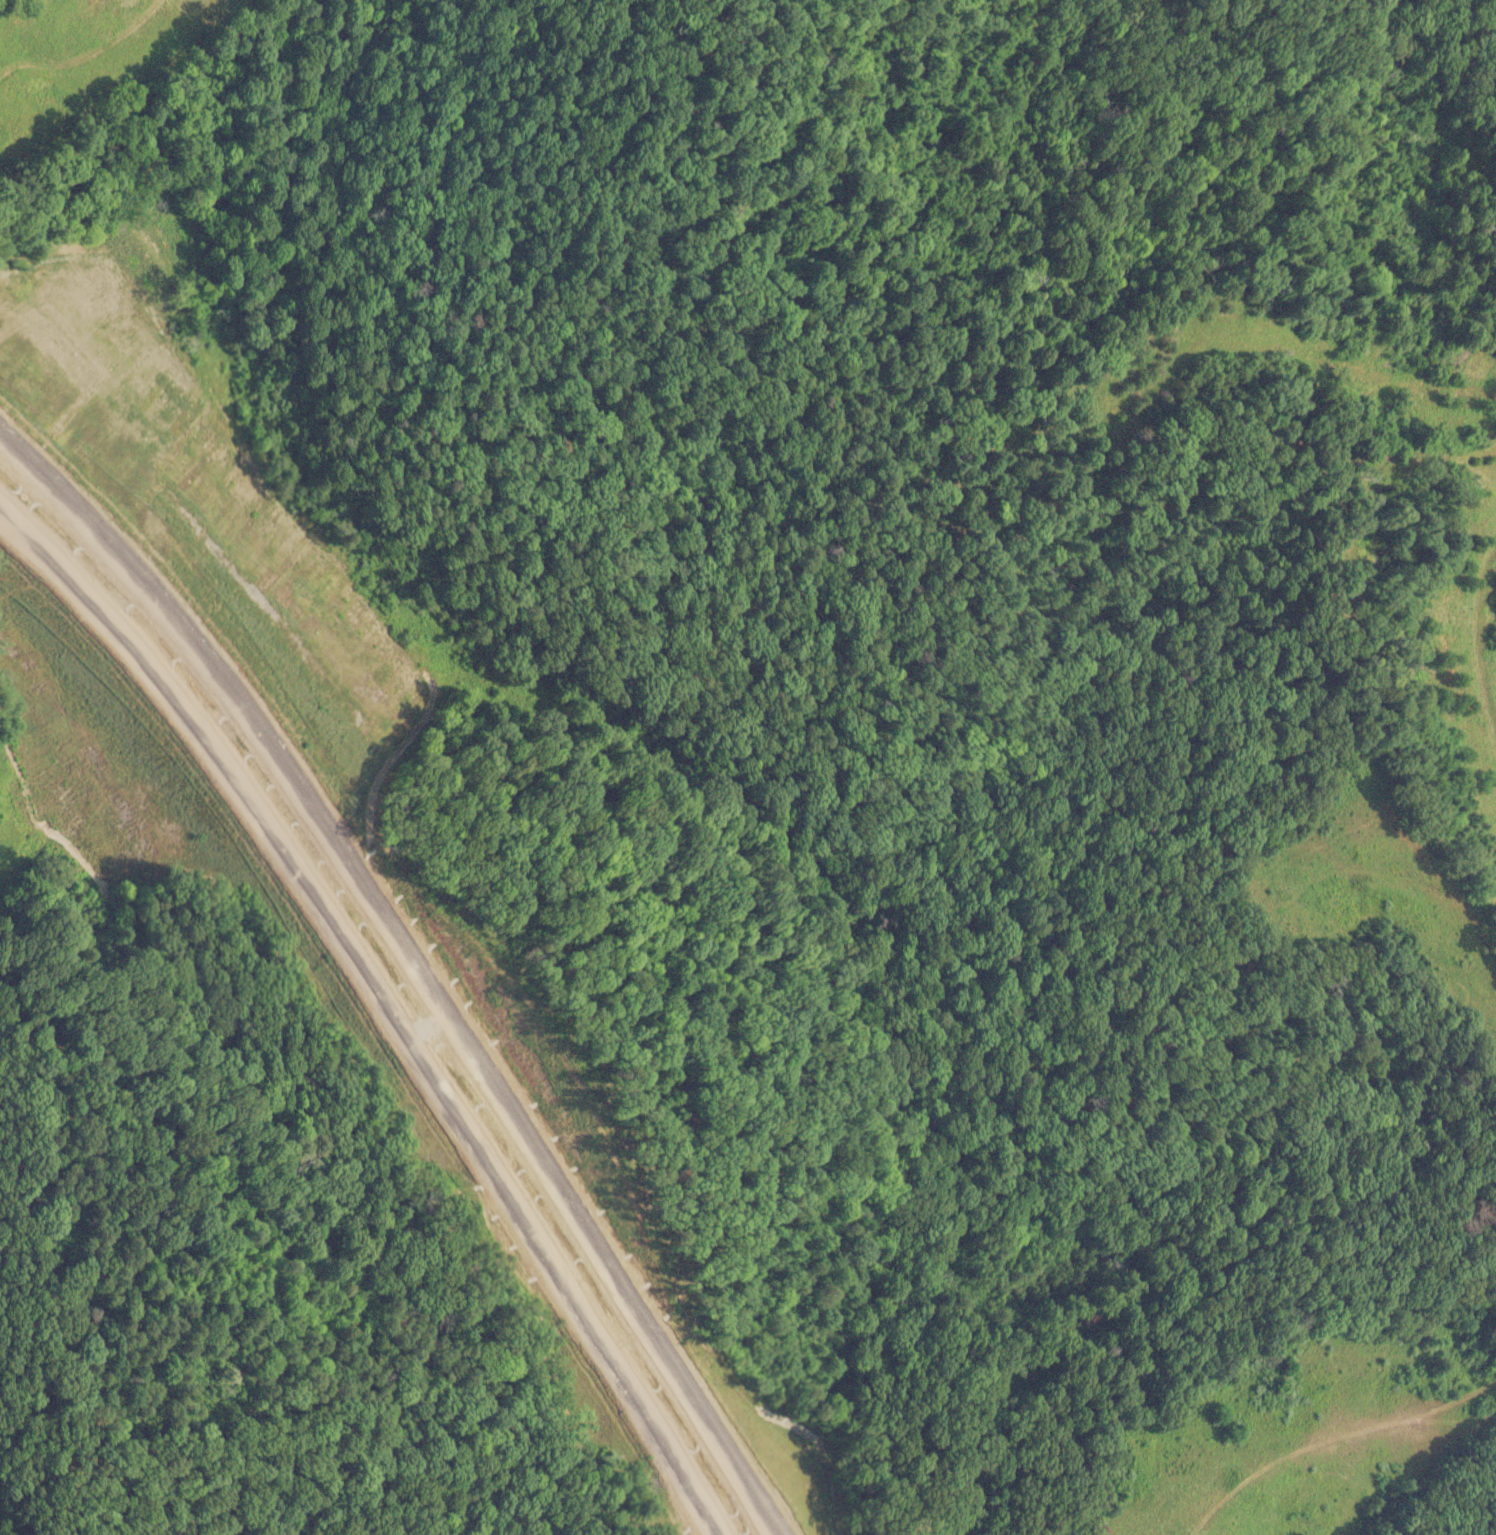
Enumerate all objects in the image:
road: (419, 960)
road: (385, 1006)

